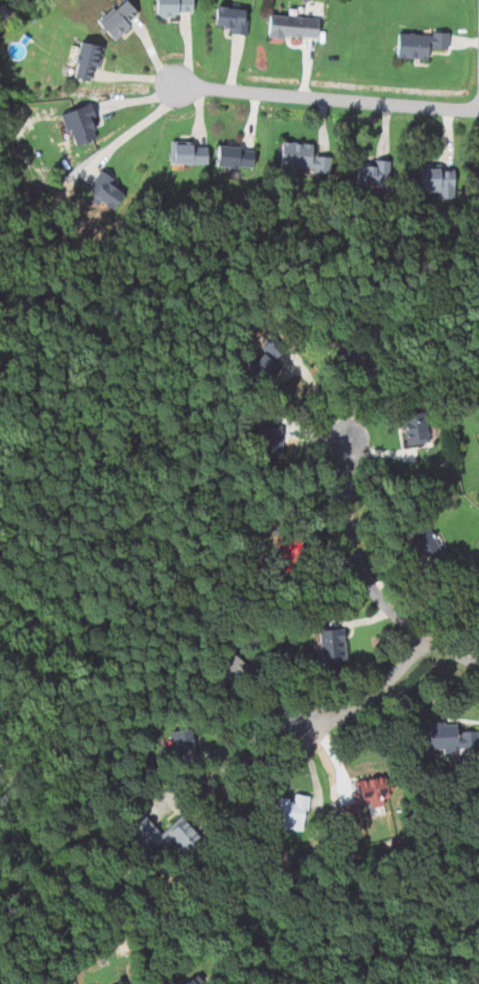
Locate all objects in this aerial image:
building: (171, 7)
building: (116, 18)
building: (228, 19)
building: (290, 26)
building: (416, 43)
building: (83, 61)
road: (324, 98)
building: (77, 124)
road: (134, 129)
building: (186, 153)
building: (232, 156)
building: (300, 157)
building: (370, 173)
building: (478, 177)
building: (435, 180)
building: (102, 190)
building: (342, 350)
building: (262, 360)
road: (320, 395)
building: (412, 428)
building: (264, 437)
building: (421, 539)
building: (290, 552)
road: (363, 577)
building: (330, 644)
building: (226, 668)
road: (373, 693)
road: (256, 735)
building: (448, 736)
building: (182, 740)
road: (237, 763)
building: (370, 792)
building: (288, 812)
building: (141, 830)
building: (190, 981)
building: (115, 983)
building: (123, 983)

